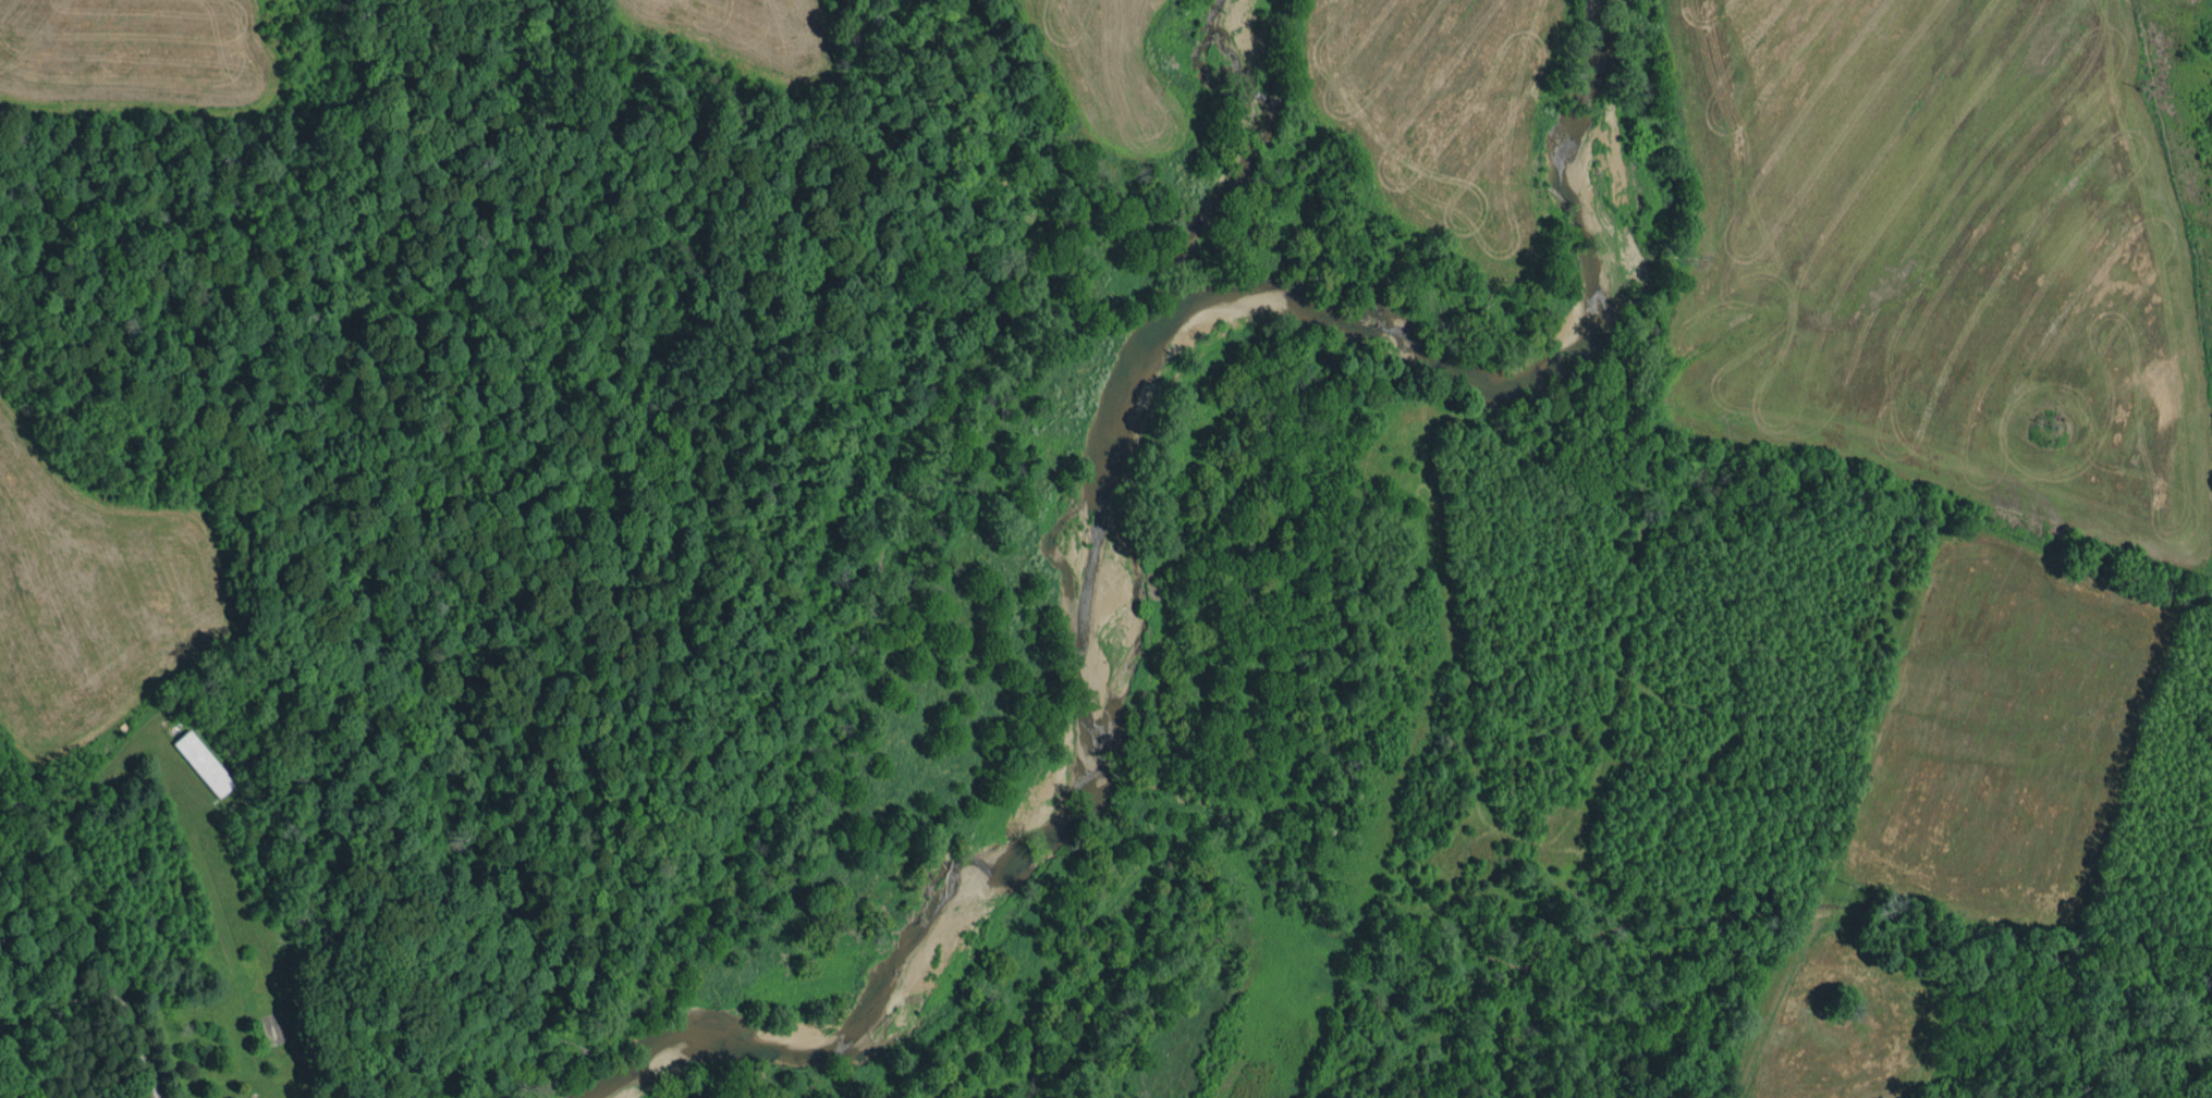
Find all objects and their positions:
river: (1102, 467)
building: (204, 763)
road: (100, 1000)

